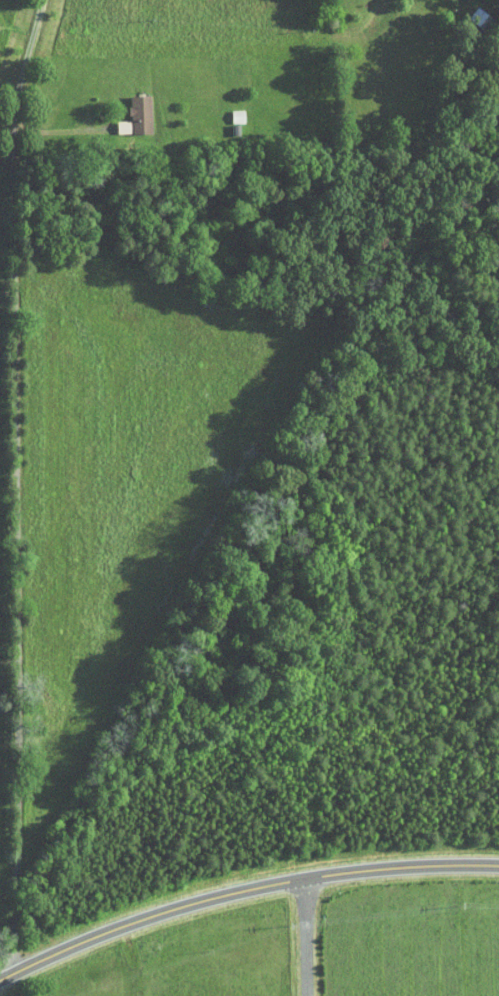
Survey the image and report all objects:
building: (131, 108)
building: (227, 109)
road: (61, 130)
road: (10, 145)
road: (18, 631)
road: (241, 891)
road: (307, 937)

